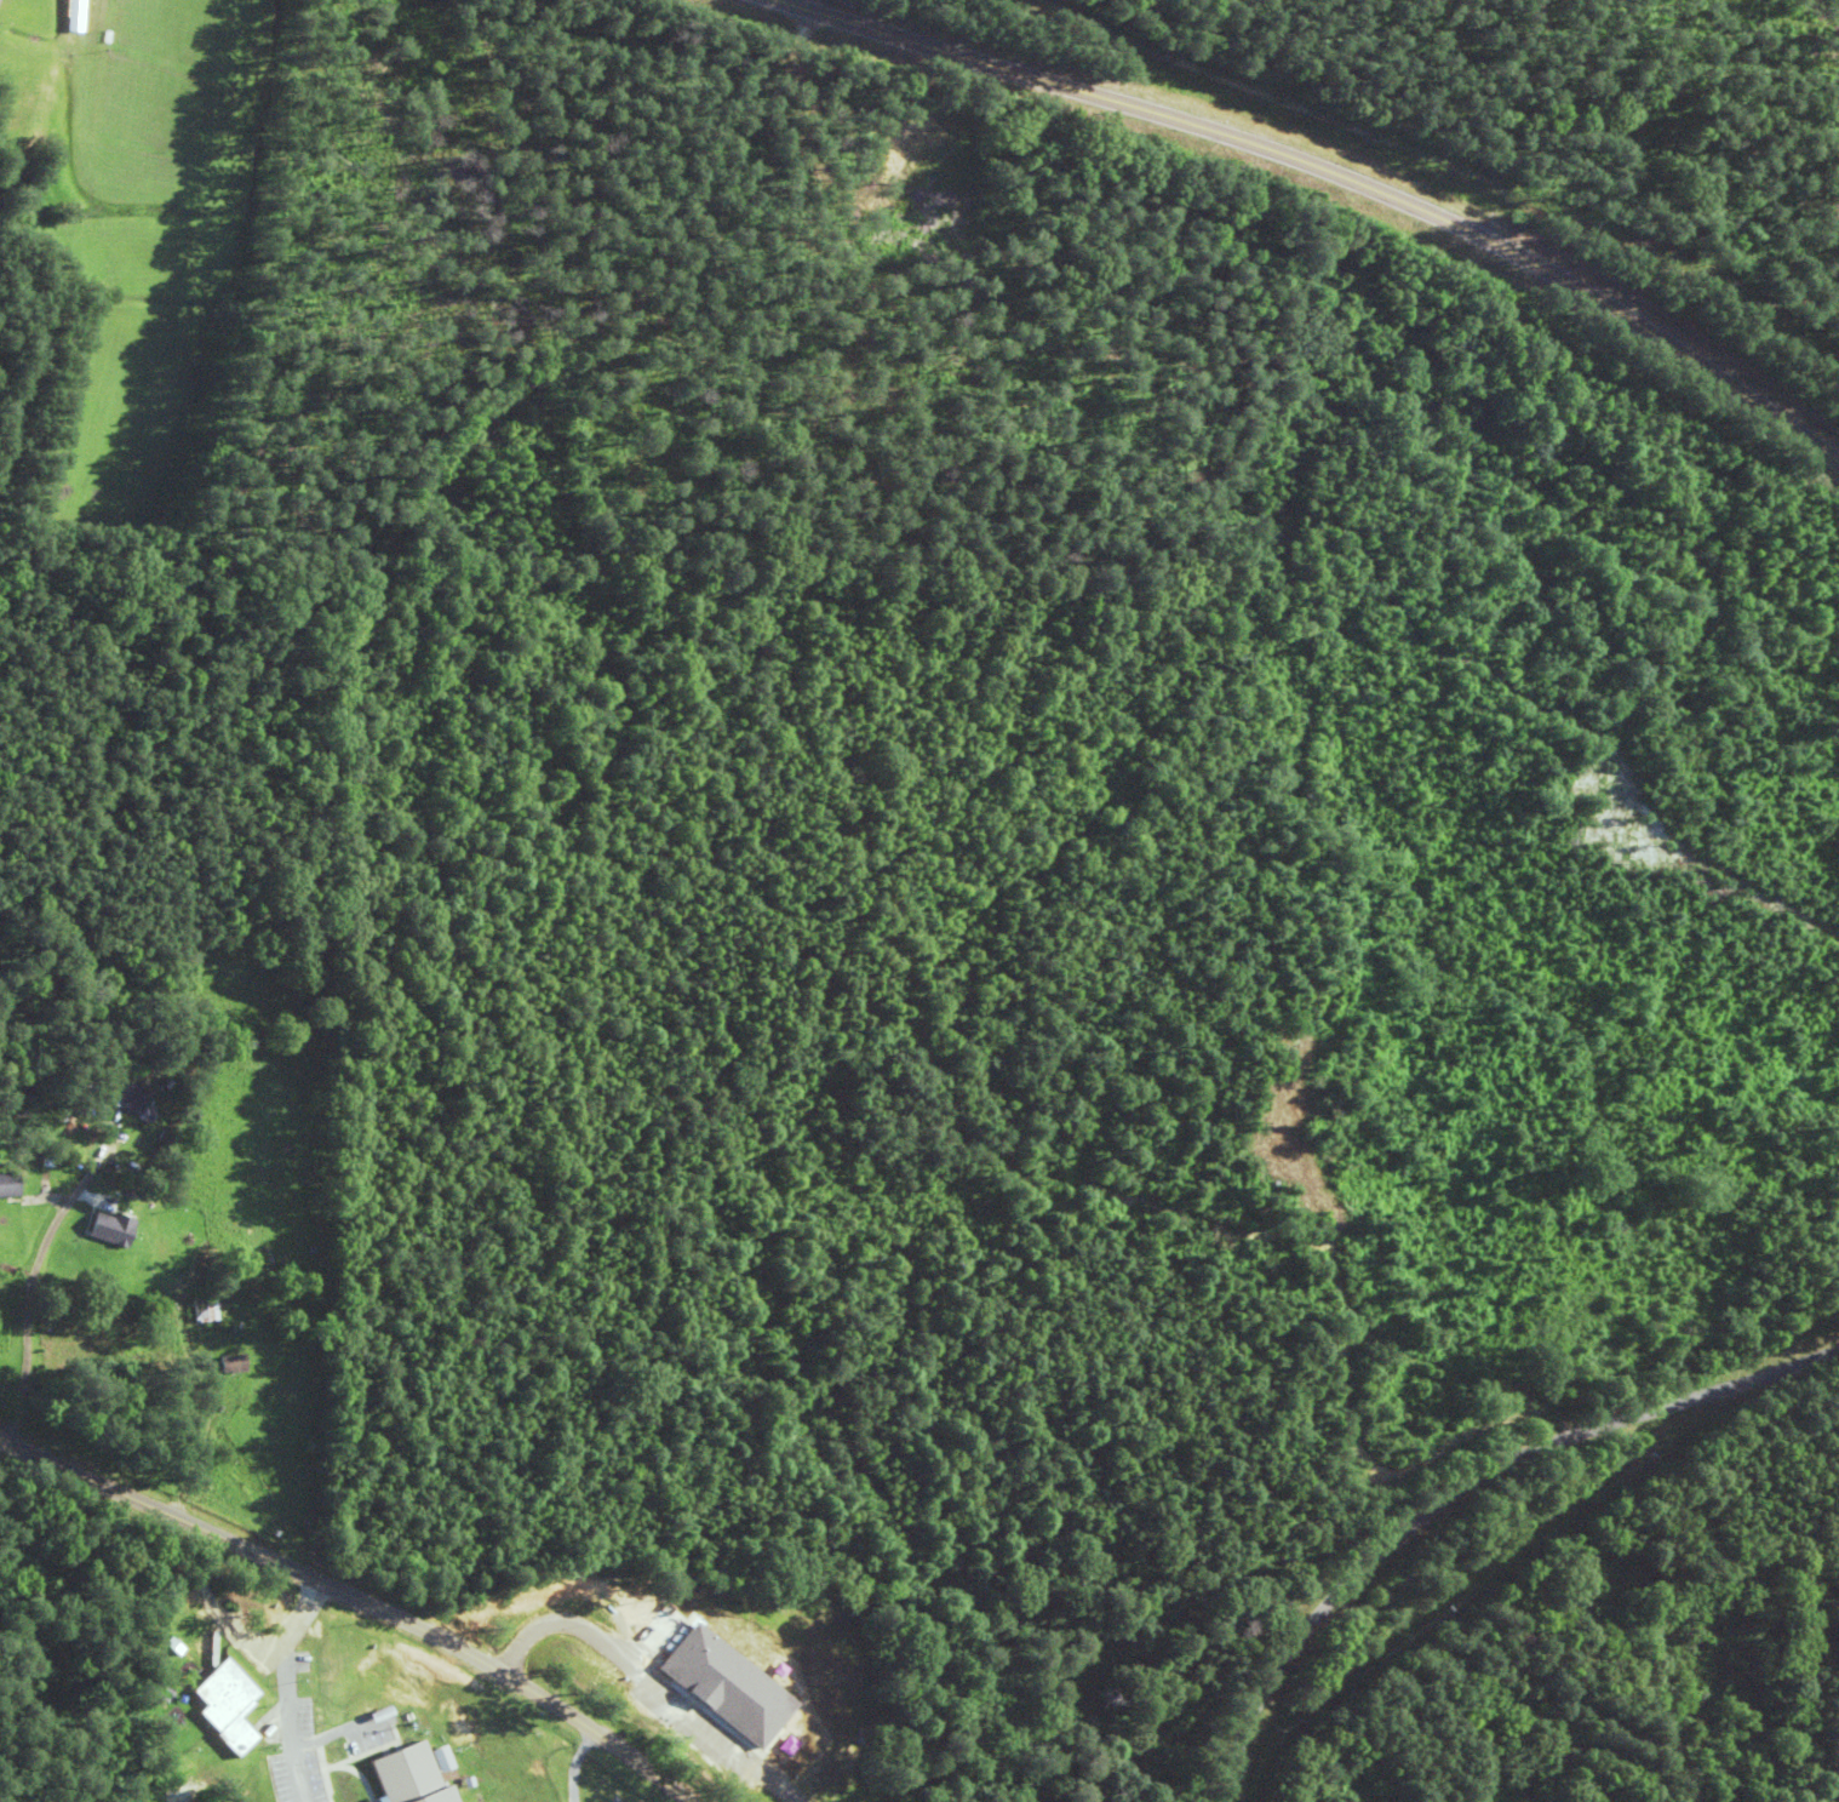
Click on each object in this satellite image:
road: (1324, 177)
building: (128, 1097)
building: (7, 1184)
building: (277, 1265)
building: (202, 1309)
building: (231, 1362)
road: (1462, 1500)
road: (360, 1603)
building: (224, 1704)
building: (709, 1717)
building: (414, 1774)

